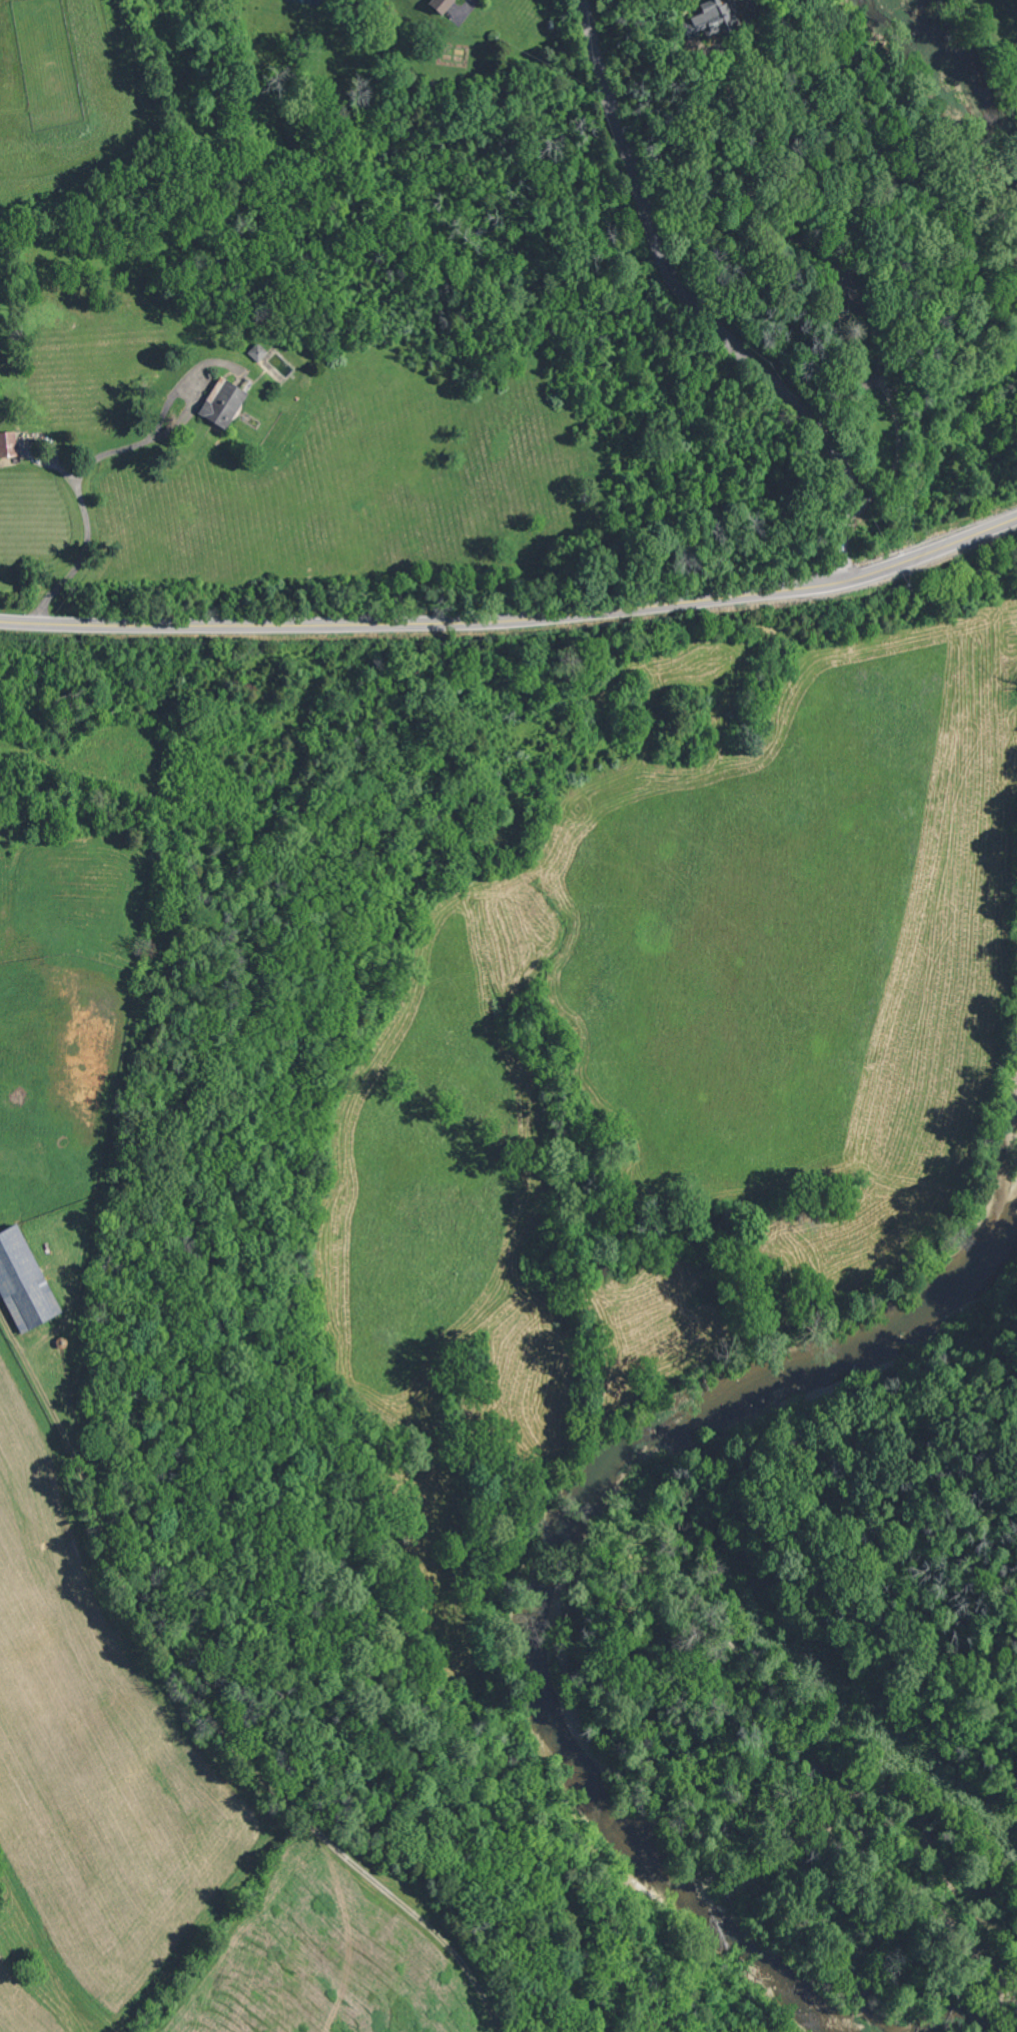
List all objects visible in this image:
building: (435, 4)
building: (706, 19)
river: (959, 91)
road: (852, 283)
road: (695, 308)
building: (222, 402)
building: (7, 443)
road: (78, 474)
road: (515, 618)
building: (23, 1282)
road: (6, 1325)
river: (545, 1562)

